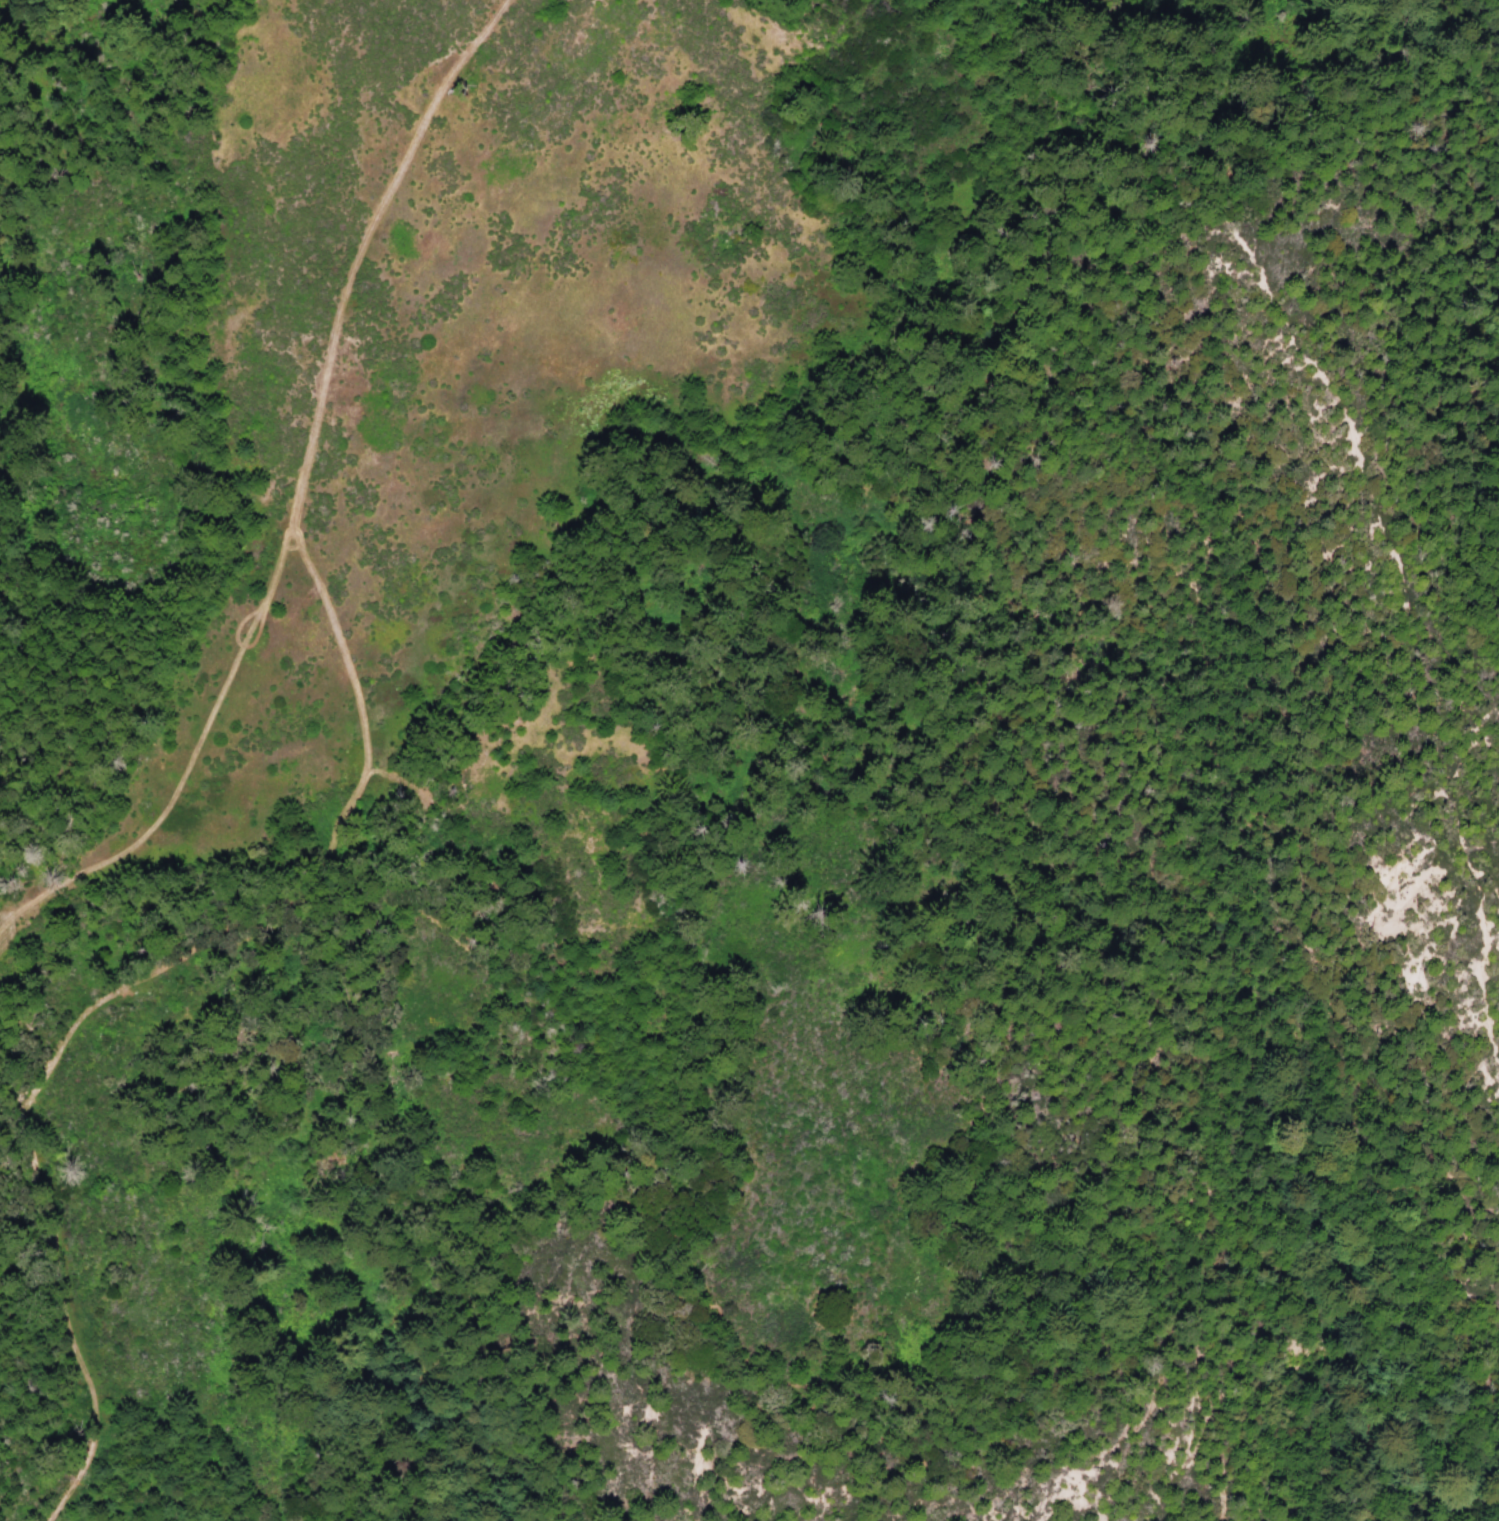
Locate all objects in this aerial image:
road: (313, 434)
road: (192, 763)
road: (221, 966)
road: (83, 1364)
road: (0, 1421)

